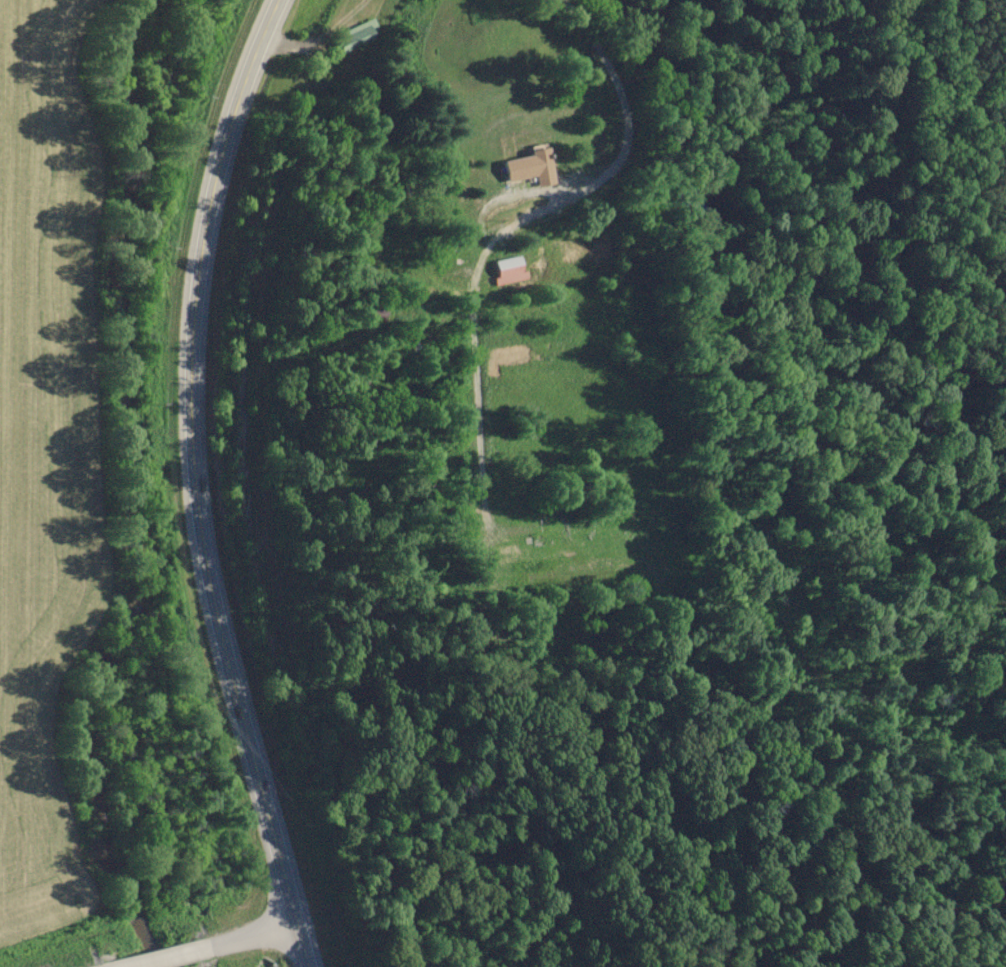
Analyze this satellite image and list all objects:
building: (356, 35)
building: (528, 166)
road: (610, 170)
building: (509, 269)
road: (195, 483)

